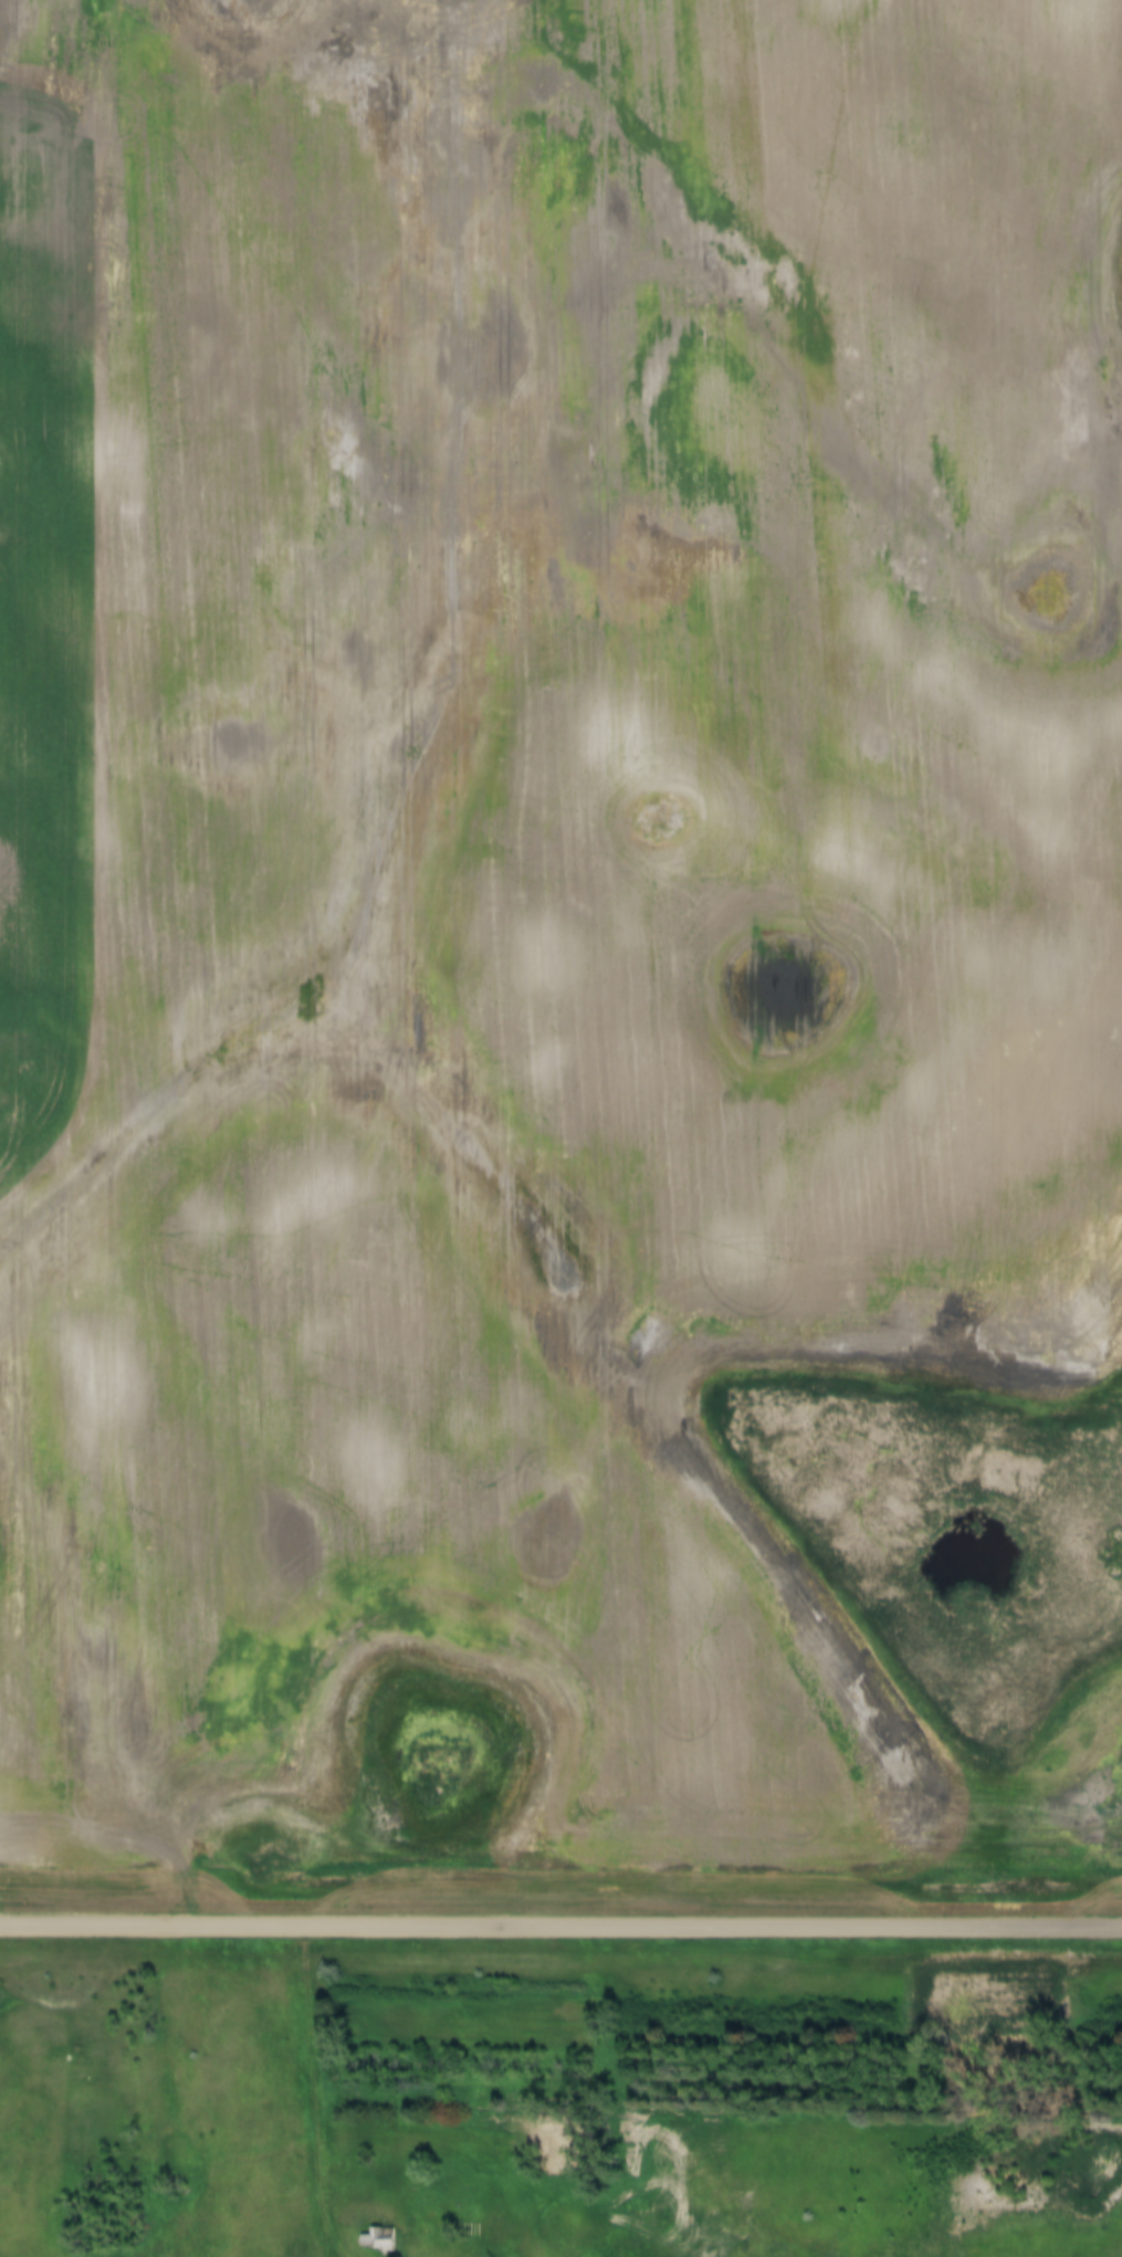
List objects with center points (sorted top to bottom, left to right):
road: (560, 1927)
building: (376, 2240)

